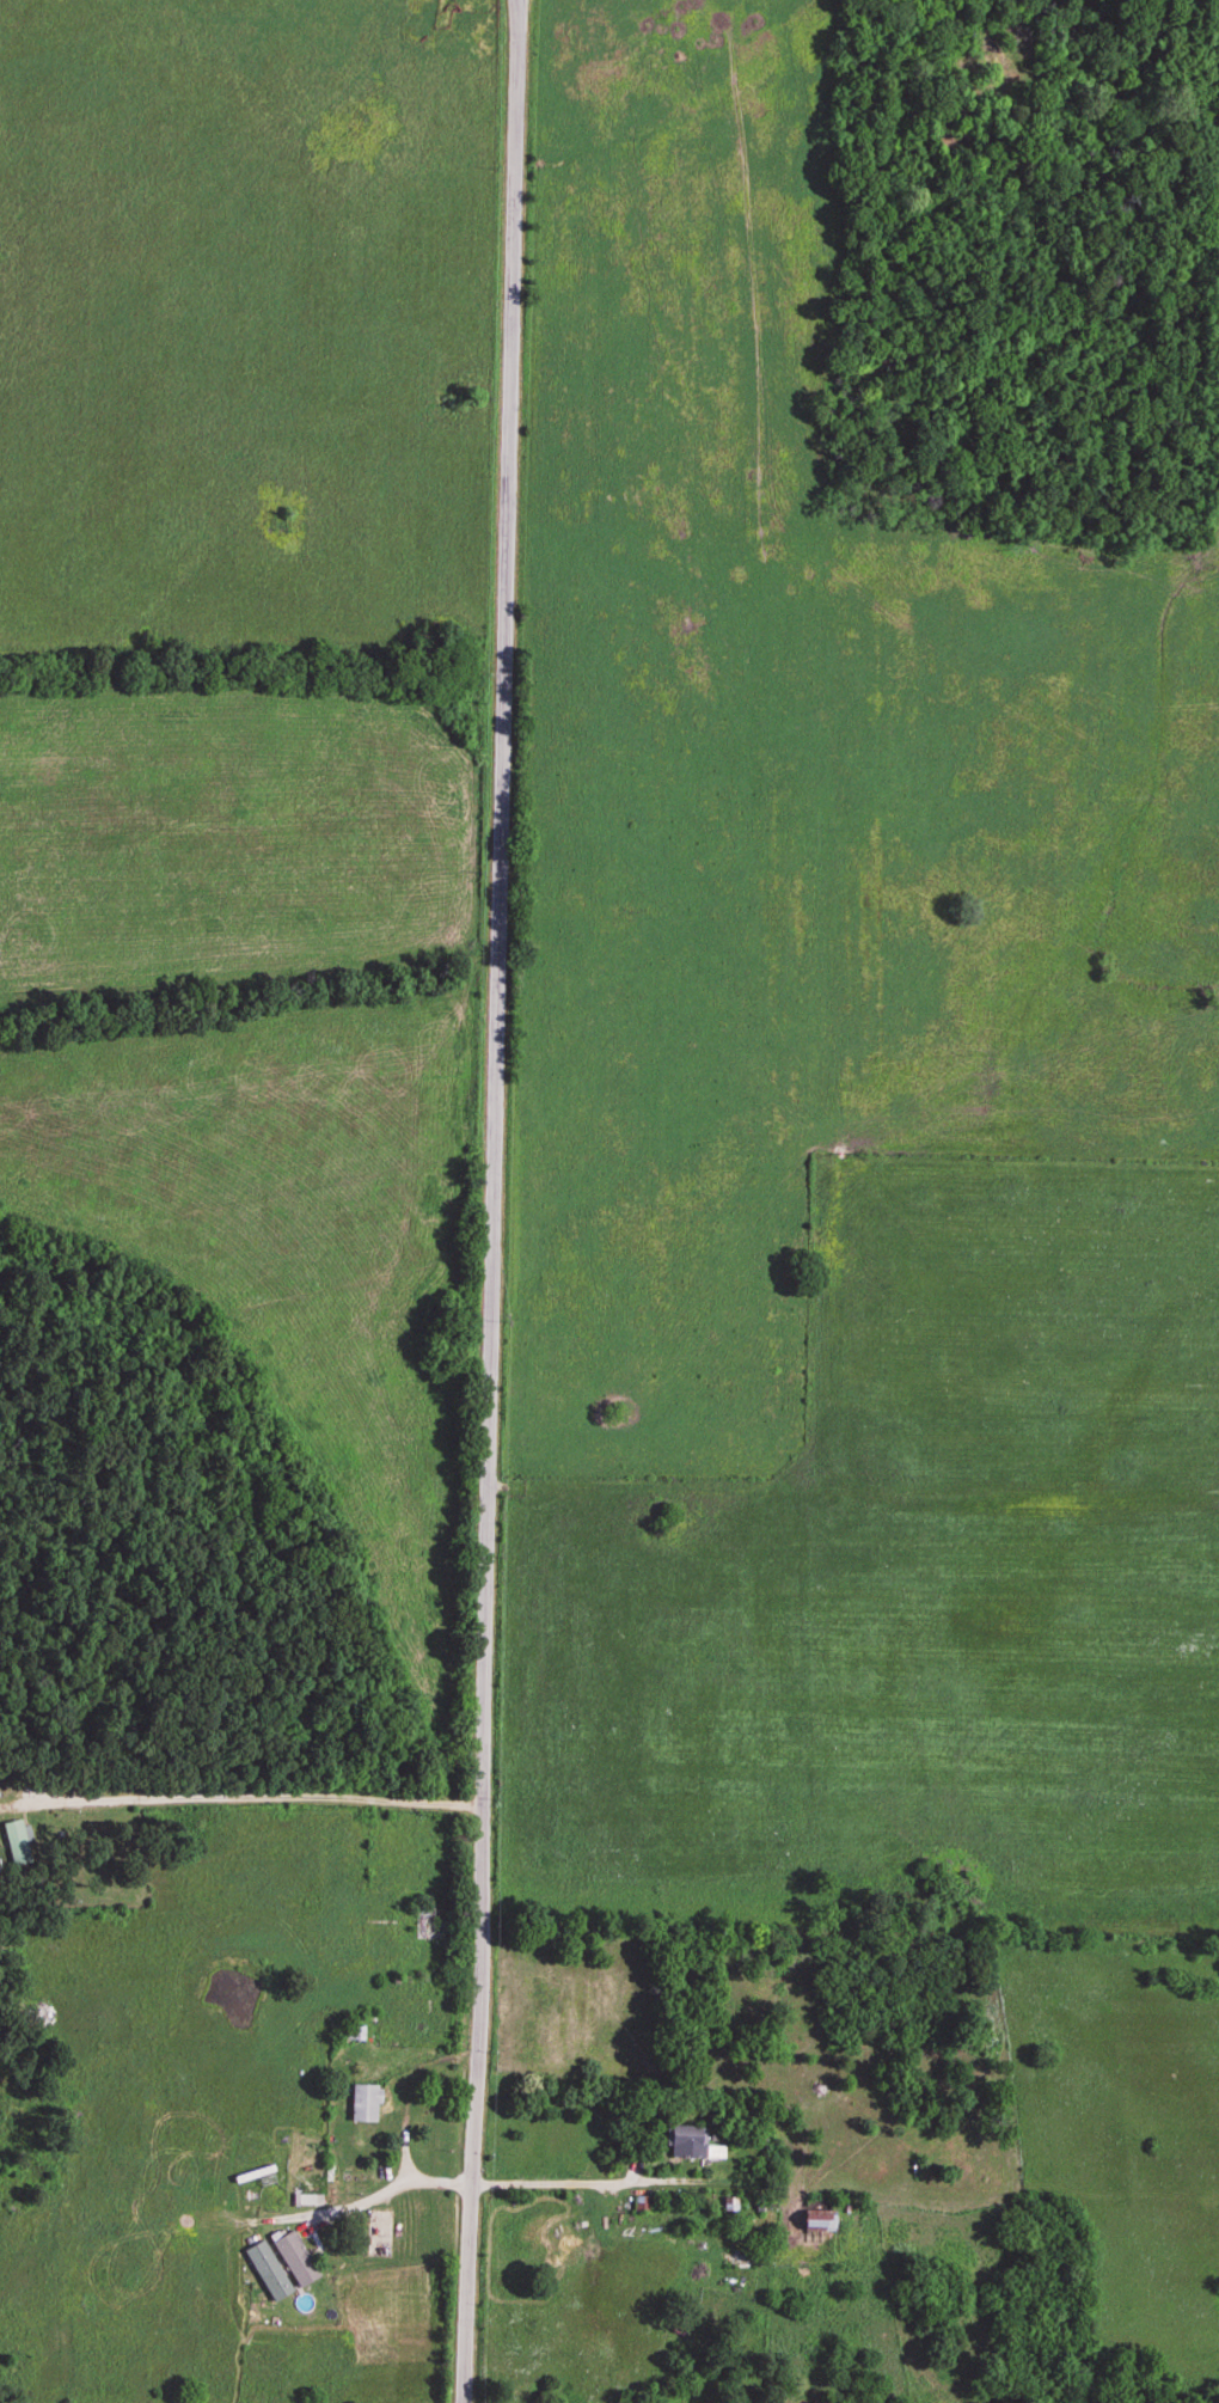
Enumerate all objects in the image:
road: (492, 1201)
road: (252, 1797)
building: (16, 1842)
building: (362, 2104)
building: (686, 2142)
road: (593, 2182)
building: (816, 2221)
building: (376, 2233)
building: (274, 2255)

